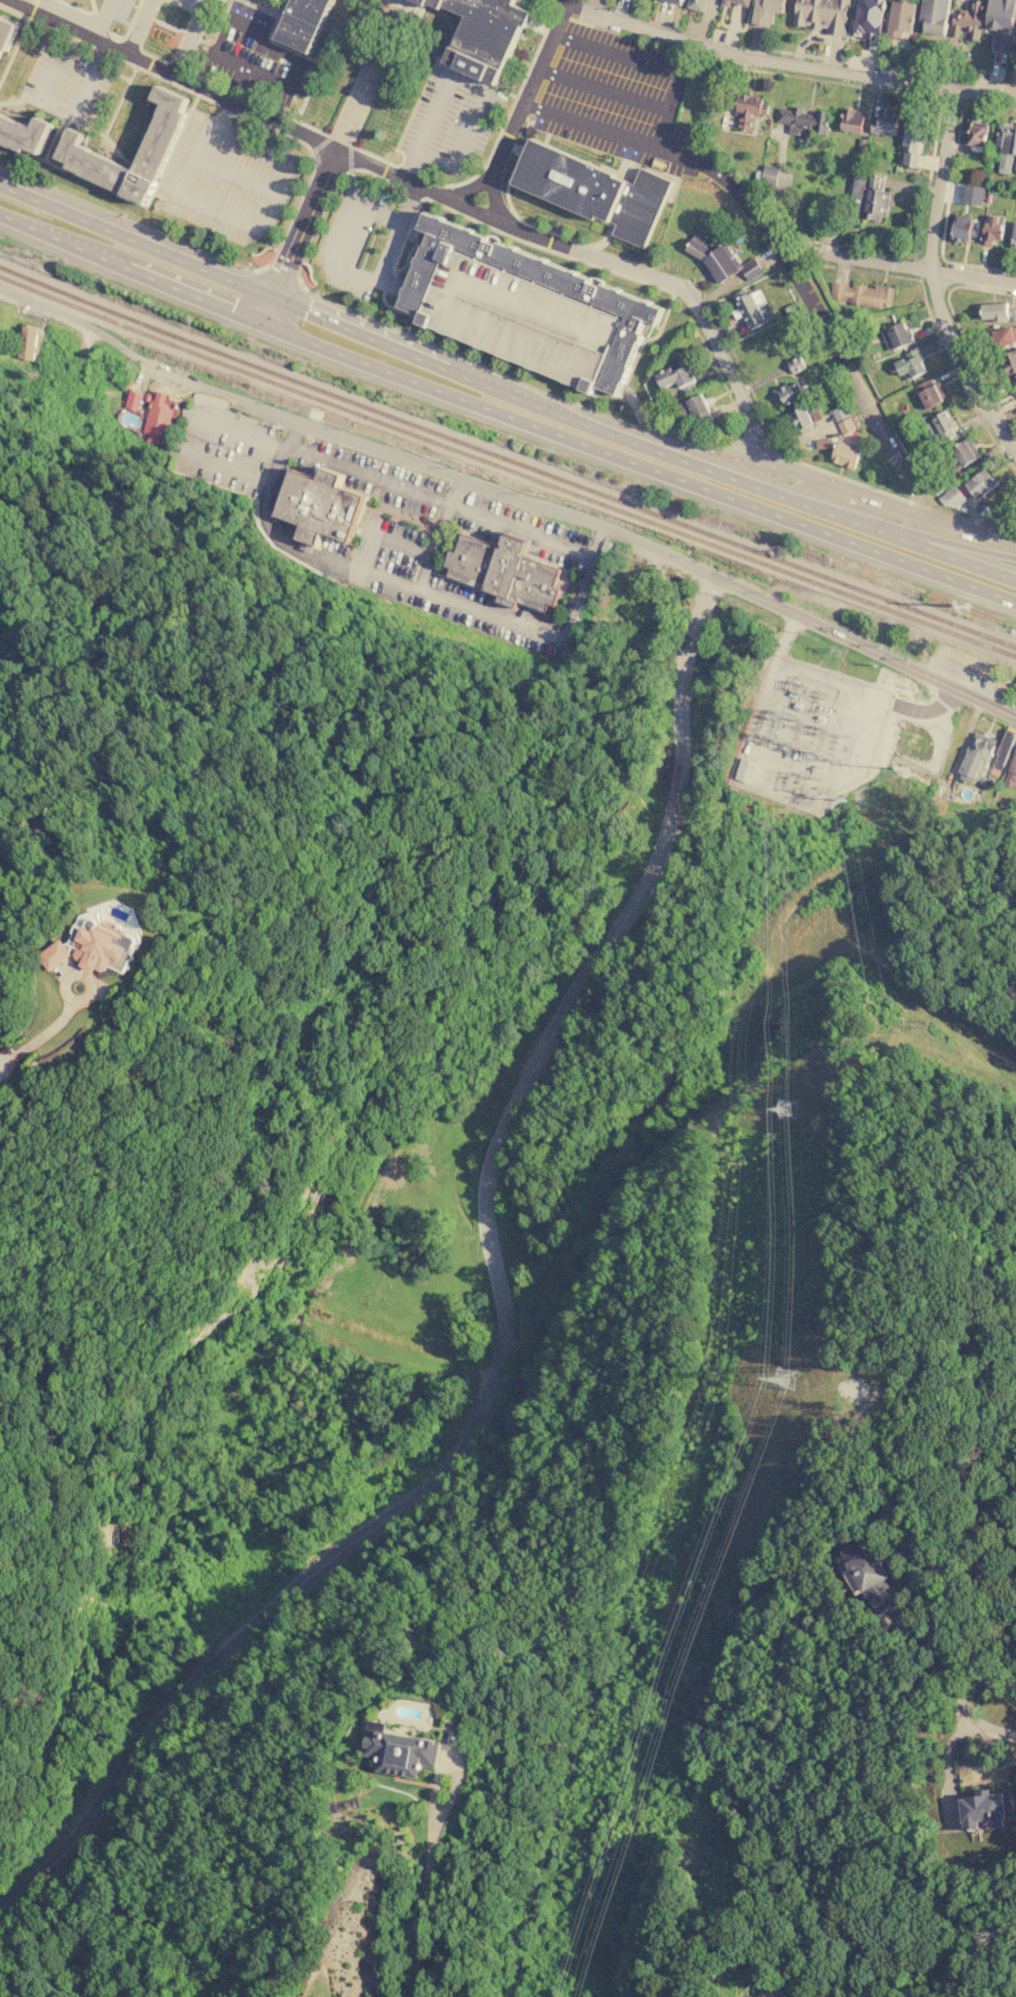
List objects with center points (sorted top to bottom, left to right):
road: (555, 0)
building: (675, 1)
building: (707, 2)
road: (559, 3)
building: (737, 4)
road: (252, 5)
road: (267, 5)
building: (697, 5)
road: (91, 6)
road: (74, 8)
building: (766, 11)
building: (822, 14)
building: (935, 16)
building: (869, 18)
building: (900, 18)
road: (102, 19)
road: (349, 19)
building: (968, 19)
building: (1001, 22)
building: (304, 23)
road: (137, 27)
road: (346, 32)
building: (6, 33)
building: (485, 35)
road: (190, 36)
building: (1015, 45)
road: (276, 48)
parking lot: (253, 56)
road: (788, 62)
road: (653, 66)
road: (169, 73)
parking lot: (65, 84)
road: (529, 88)
road: (602, 91)
parking lot: (616, 98)
building: (749, 109)
road: (66, 111)
road: (227, 116)
building: (853, 120)
building: (804, 121)
building: (885, 121)
parking lot: (451, 124)
road: (426, 128)
road: (469, 128)
road: (201, 133)
building: (23, 134)
building: (976, 134)
building: (912, 139)
road: (352, 143)
building: (1006, 148)
road: (316, 150)
road: (273, 153)
building: (77, 154)
road: (349, 164)
road: (234, 175)
building: (775, 178)
parking lot: (225, 180)
road: (418, 184)
road: (469, 186)
building: (591, 190)
building: (973, 194)
building: (869, 195)
road: (493, 196)
road: (215, 212)
road: (2, 215)
road: (126, 219)
road: (303, 223)
building: (962, 227)
building: (992, 228)
building: (1014, 236)
road: (54, 238)
parking lot: (352, 239)
road: (136, 240)
road: (777, 247)
building: (721, 260)
road: (632, 268)
road: (921, 268)
road: (353, 273)
road: (931, 278)
road: (184, 287)
road: (389, 288)
building: (864, 294)
traffic signals: (274, 297)
building: (609, 300)
road: (209, 307)
building: (750, 307)
road: (269, 308)
building: (995, 311)
traffic signals: (265, 320)
building: (517, 320)
parking lot: (517, 320)
road: (293, 330)
building: (897, 336)
building: (1005, 336)
building: (27, 342)
building: (1010, 361)
building: (796, 364)
building: (912, 364)
building: (676, 376)
building: (1015, 379)
building: (789, 392)
building: (931, 393)
building: (694, 410)
building: (839, 412)
building: (157, 420)
building: (801, 420)
building: (847, 424)
building: (944, 425)
road: (659, 432)
road: (681, 432)
road: (353, 439)
road: (642, 445)
building: (963, 453)
building: (845, 454)
railway: (507, 459)
railway: (507, 469)
road: (667, 478)
building: (980, 482)
road: (838, 486)
building: (950, 497)
building: (317, 507)
road: (894, 525)
building: (503, 572)
road: (865, 647)
power substation: (800, 734)
building: (1003, 749)
building: (975, 757)
building: (746, 770)
building: (1011, 771)
building: (91, 947)
road: (79, 977)
road: (38, 1037)
power tower: (788, 1101)
road: (504, 1320)
power tower: (783, 1372)
road: (930, 1571)
building: (871, 1576)
building: (399, 1751)
road: (970, 1765)
building: (982, 1809)
road: (424, 1864)

